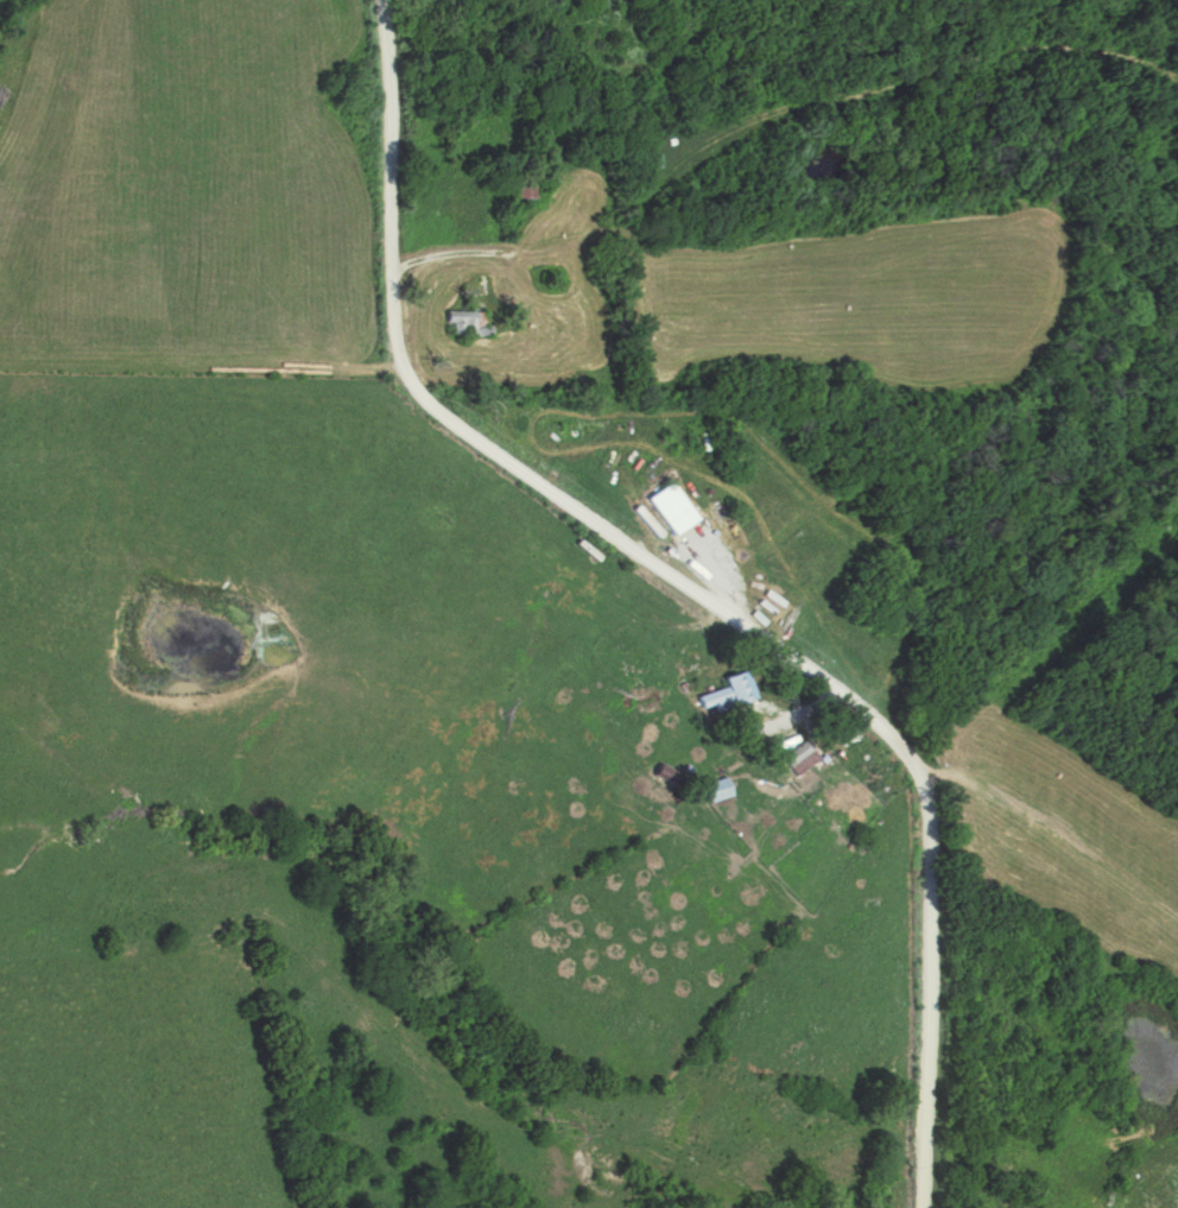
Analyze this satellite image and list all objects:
building: (521, 190)
road: (450, 259)
building: (461, 323)
building: (669, 508)
road: (680, 590)
building: (720, 694)
building: (794, 757)
building: (832, 798)

